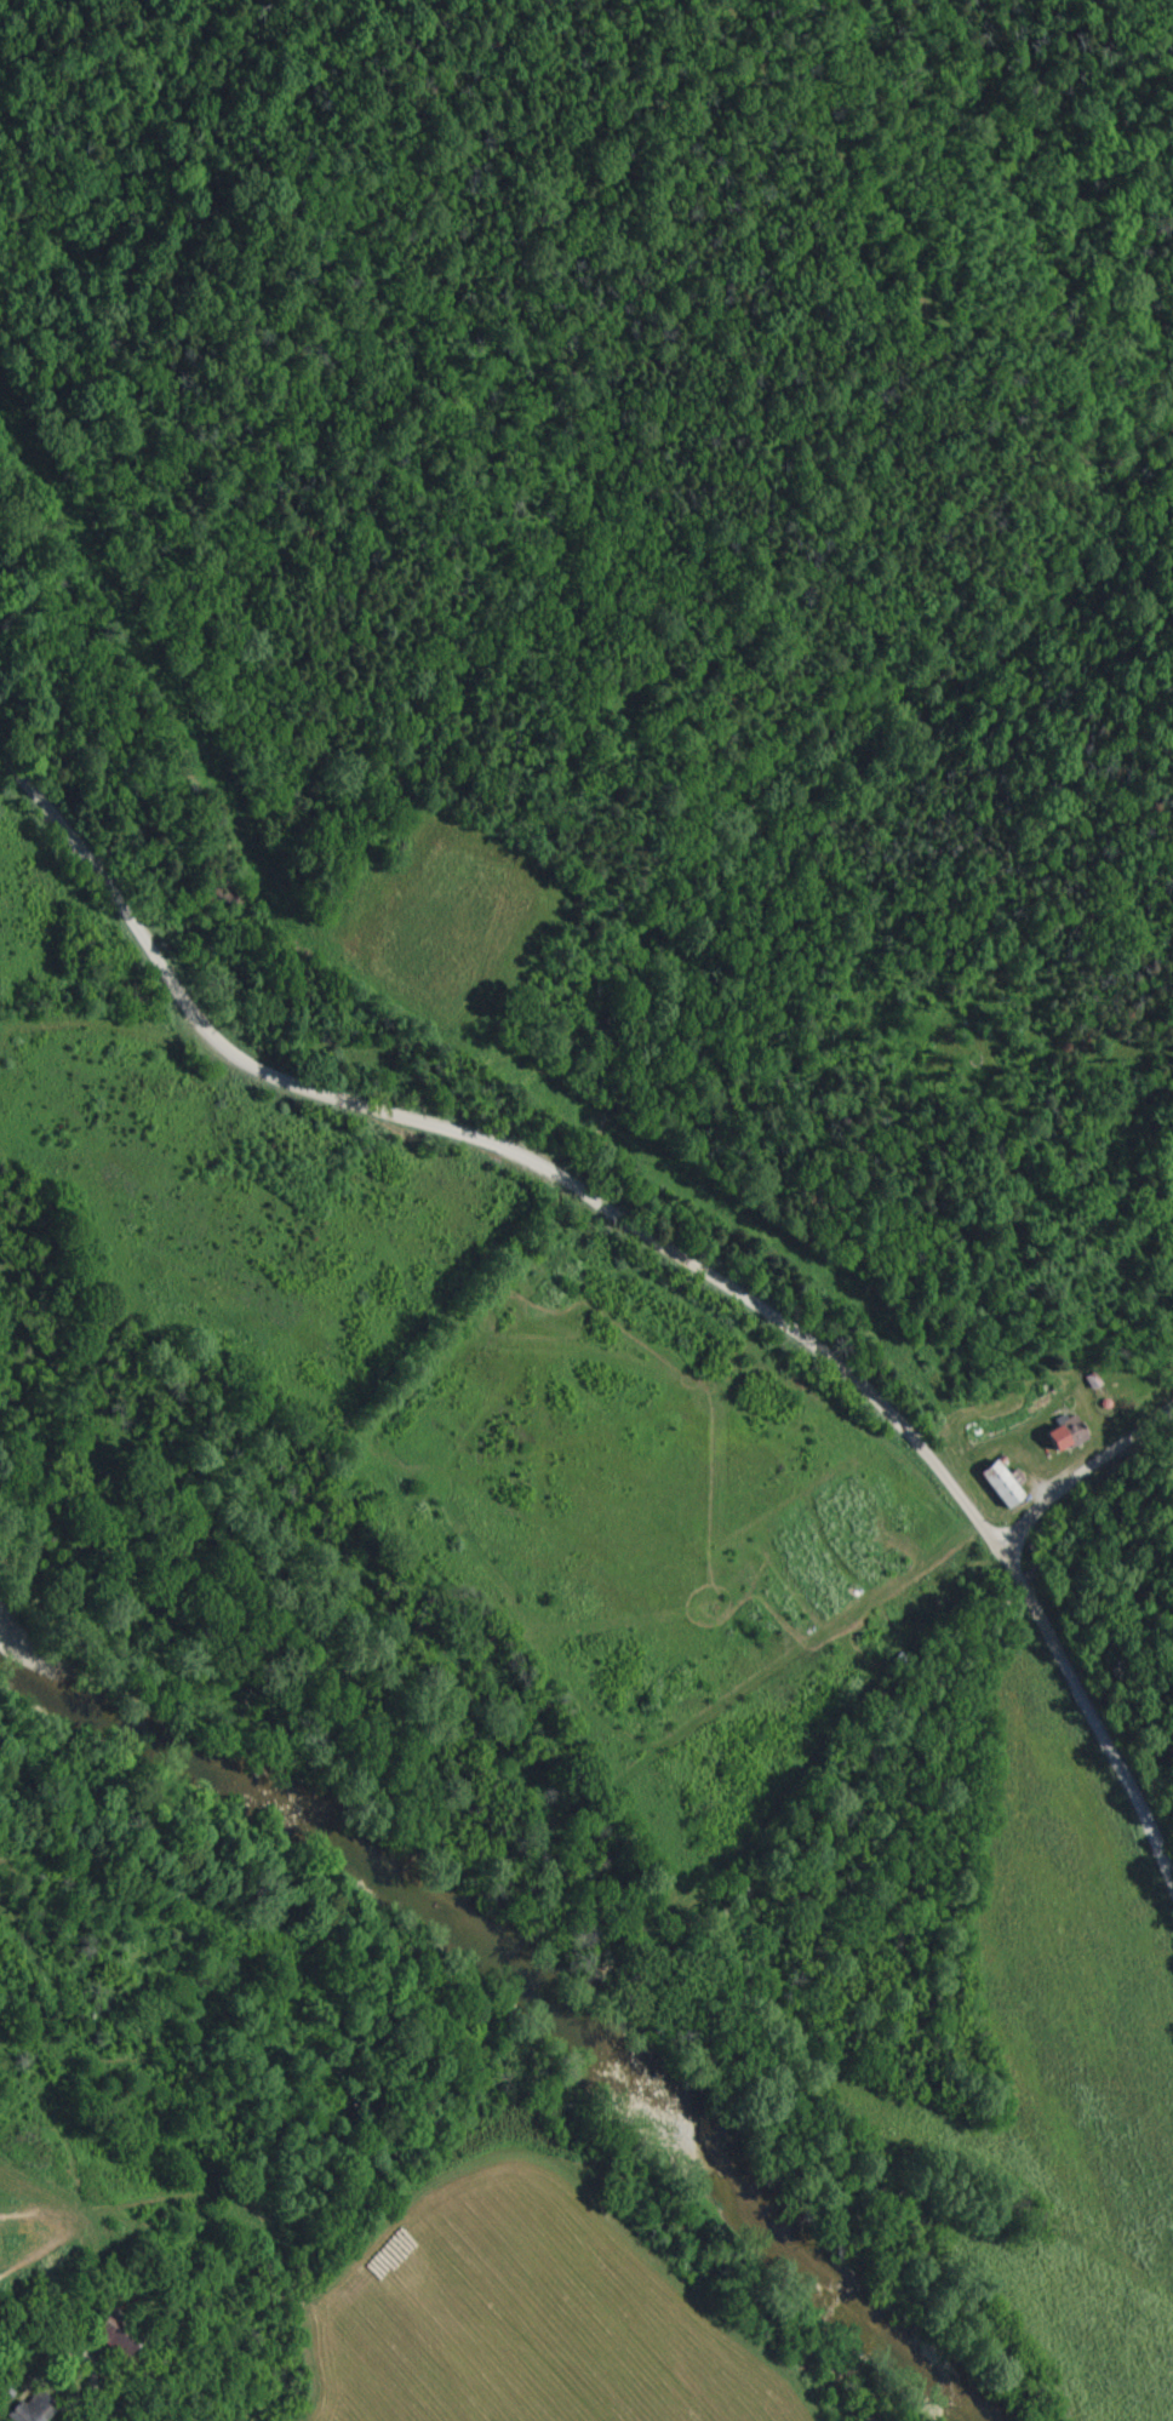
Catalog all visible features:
road: (648, 1253)
building: (1059, 1437)
building: (994, 1486)
road: (1080, 1498)
river: (539, 1996)
crop: (536, 2312)
road: (99, 2379)
building: (28, 2410)

